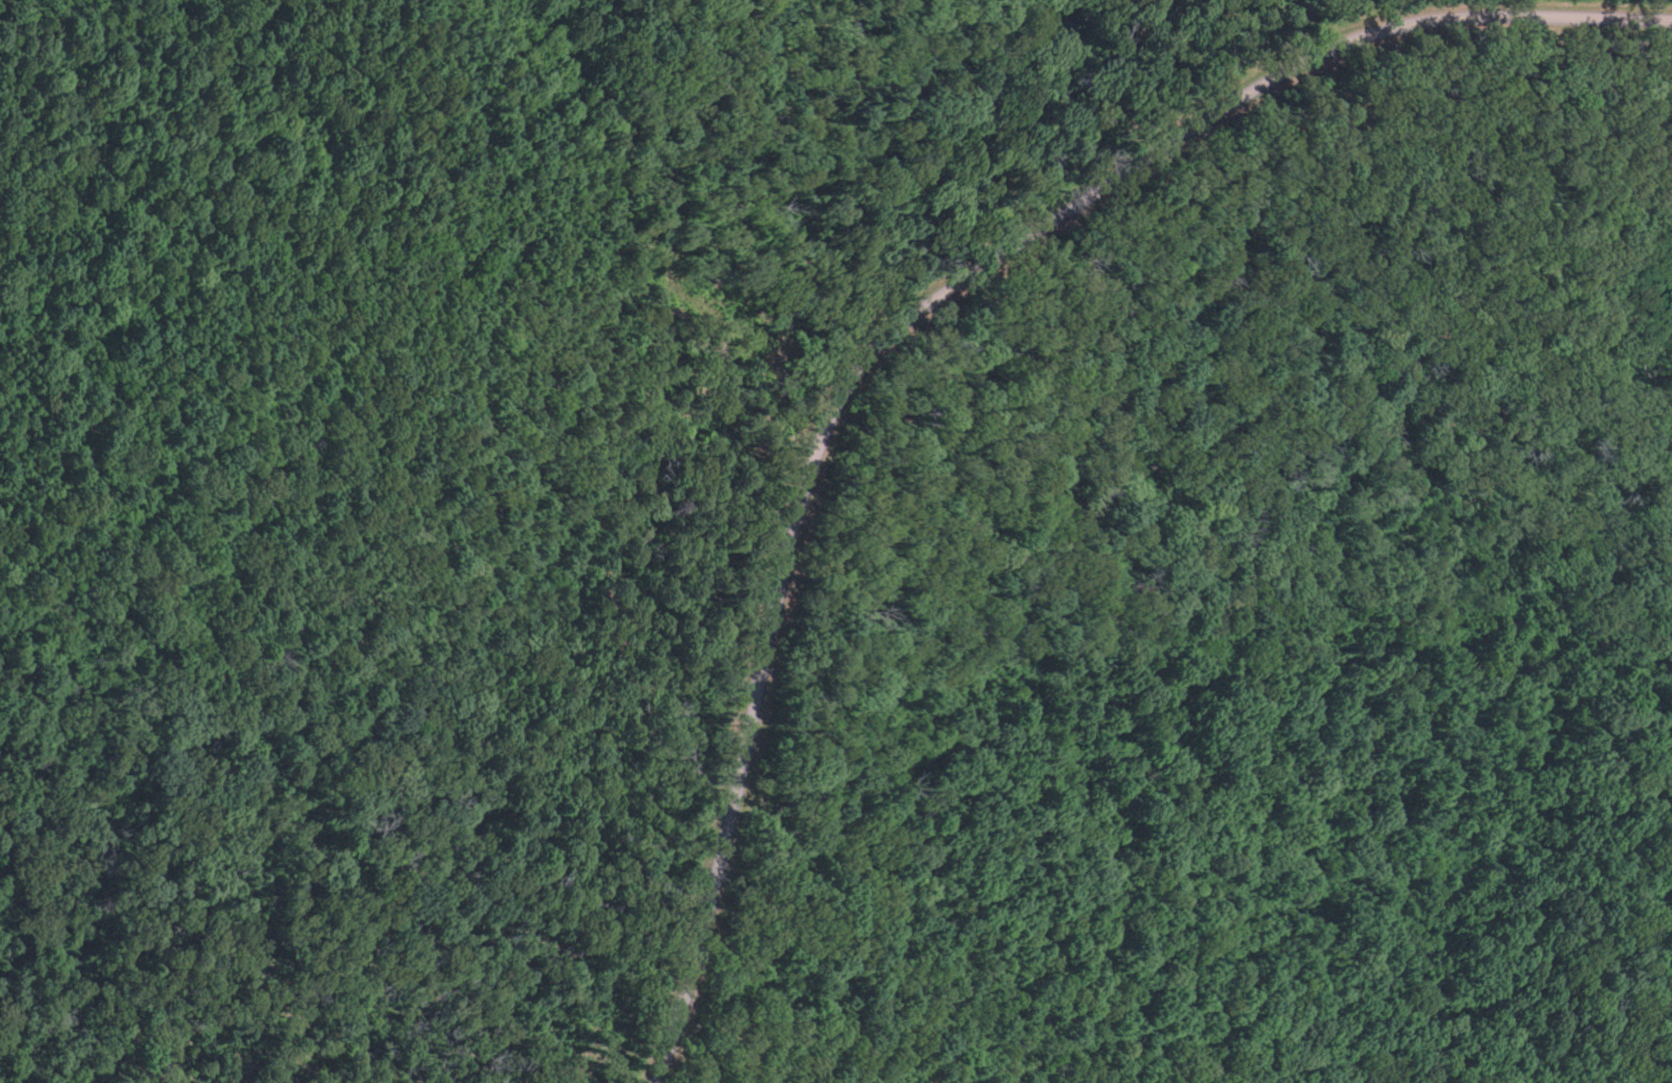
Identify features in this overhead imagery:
road: (917, 305)

